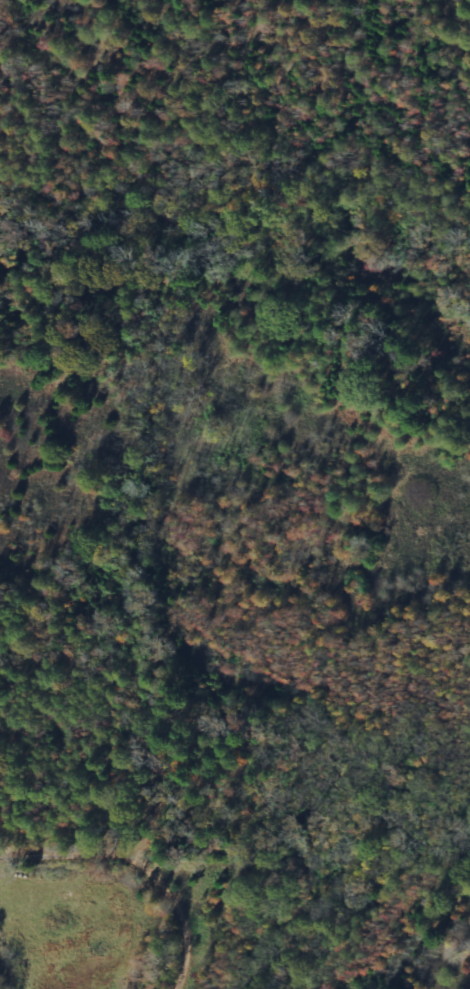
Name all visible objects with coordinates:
road: (68, 862)

